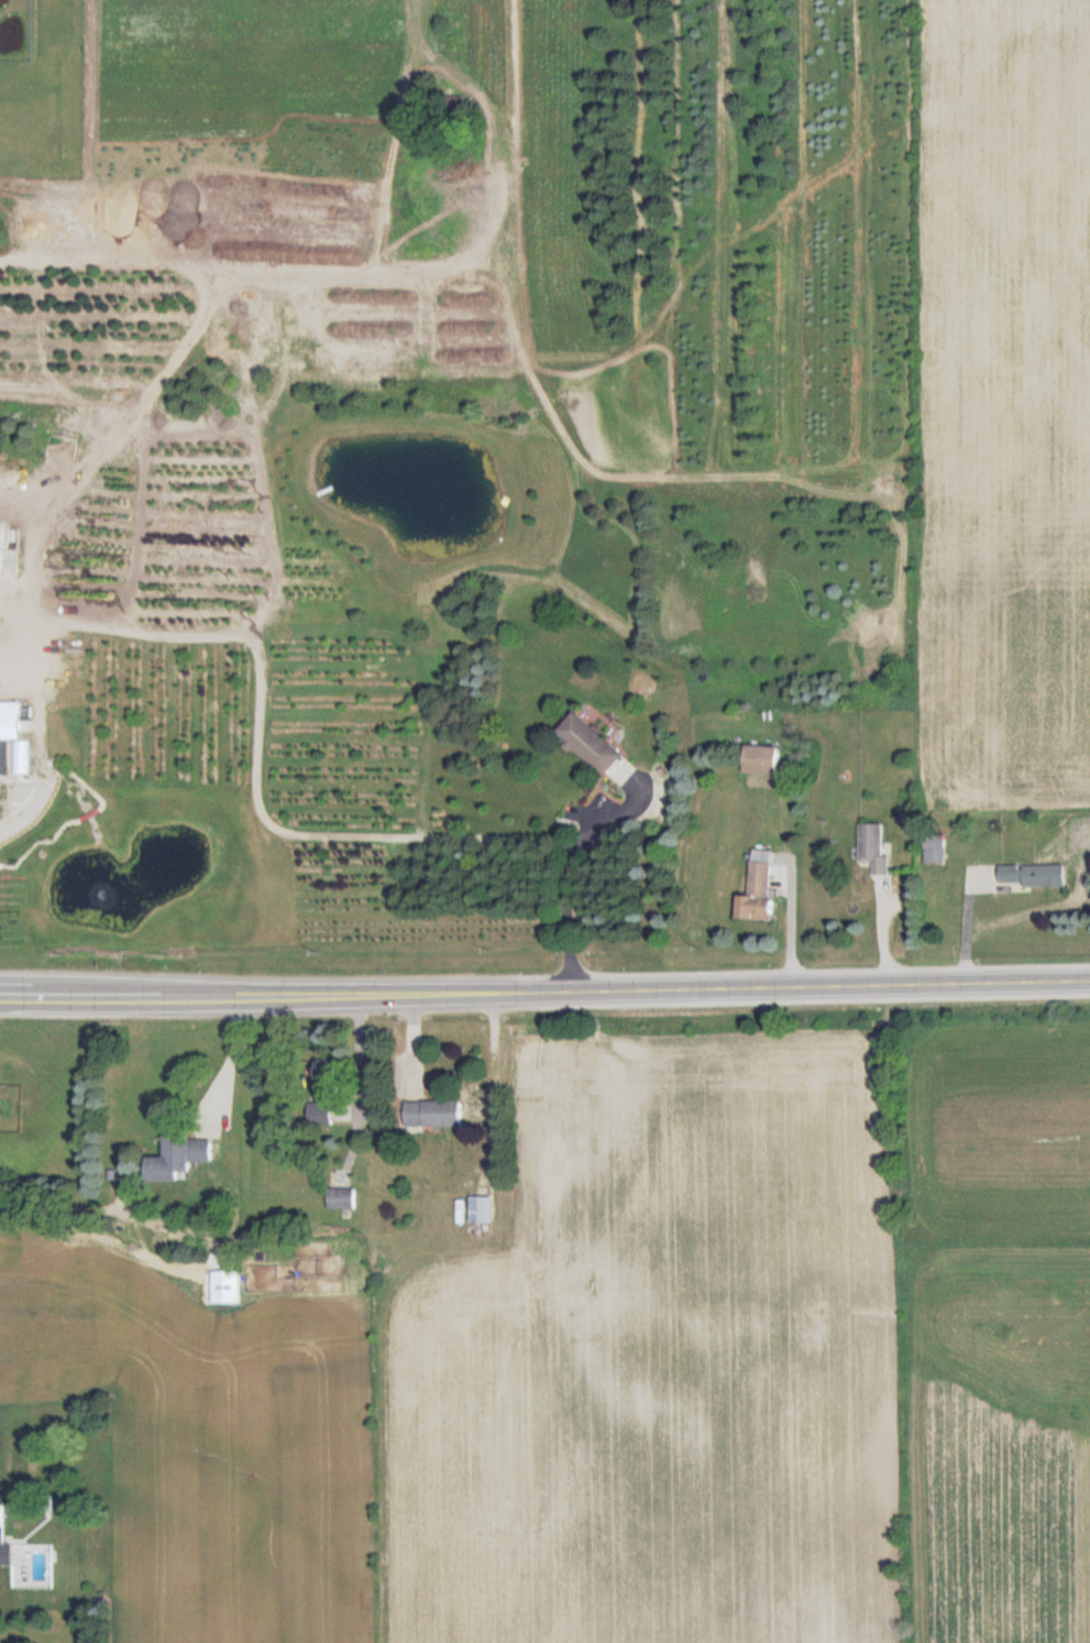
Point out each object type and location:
building: (456, 103)
building: (10, 721)
building: (590, 743)
building: (762, 760)
building: (874, 846)
road: (569, 850)
building: (935, 850)
building: (1034, 877)
building: (758, 888)
road: (544, 992)
road: (232, 1059)
road: (360, 1089)
building: (432, 1114)
building: (320, 1115)
building: (178, 1158)
building: (341, 1200)
building: (480, 1211)
building: (227, 1288)
building: (2, 1534)

